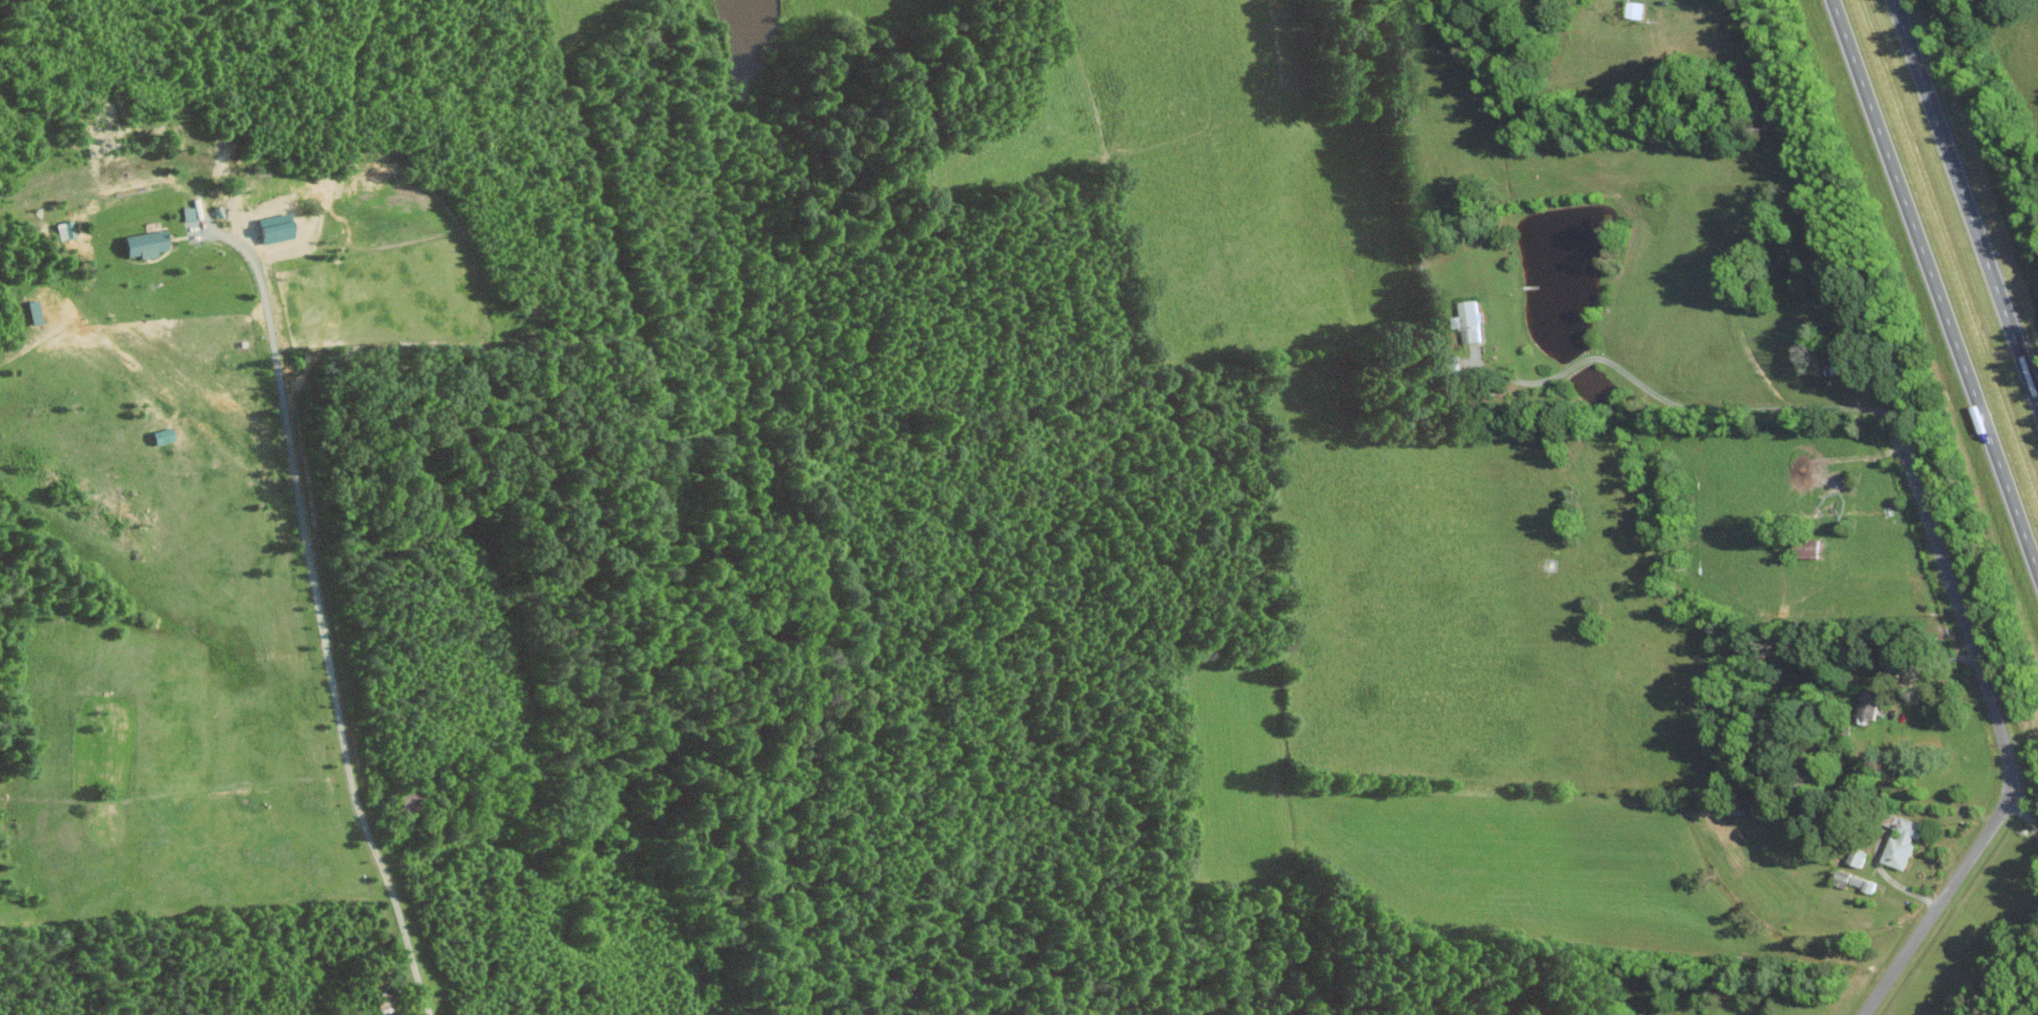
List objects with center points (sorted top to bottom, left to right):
building: (1635, 9)
road: (1964, 203)
road: (1816, 205)
building: (150, 243)
road: (1934, 290)
building: (36, 306)
building: (1468, 318)
road: (1674, 402)
building: (166, 435)
road: (323, 615)
road: (1928, 661)
building: (1872, 705)
road: (2000, 726)
building: (1906, 842)
road: (1883, 874)
building: (1856, 881)

